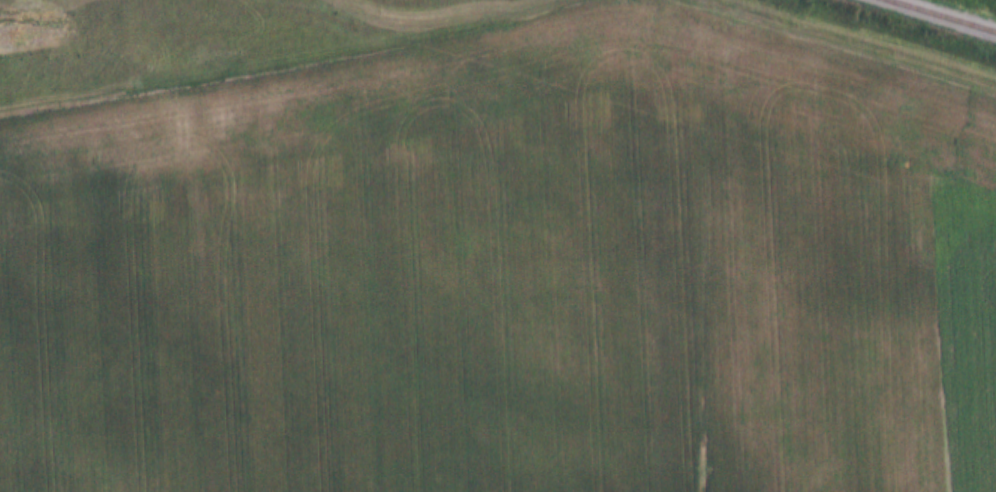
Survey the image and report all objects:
railway: (940, 16)
road: (840, 53)

